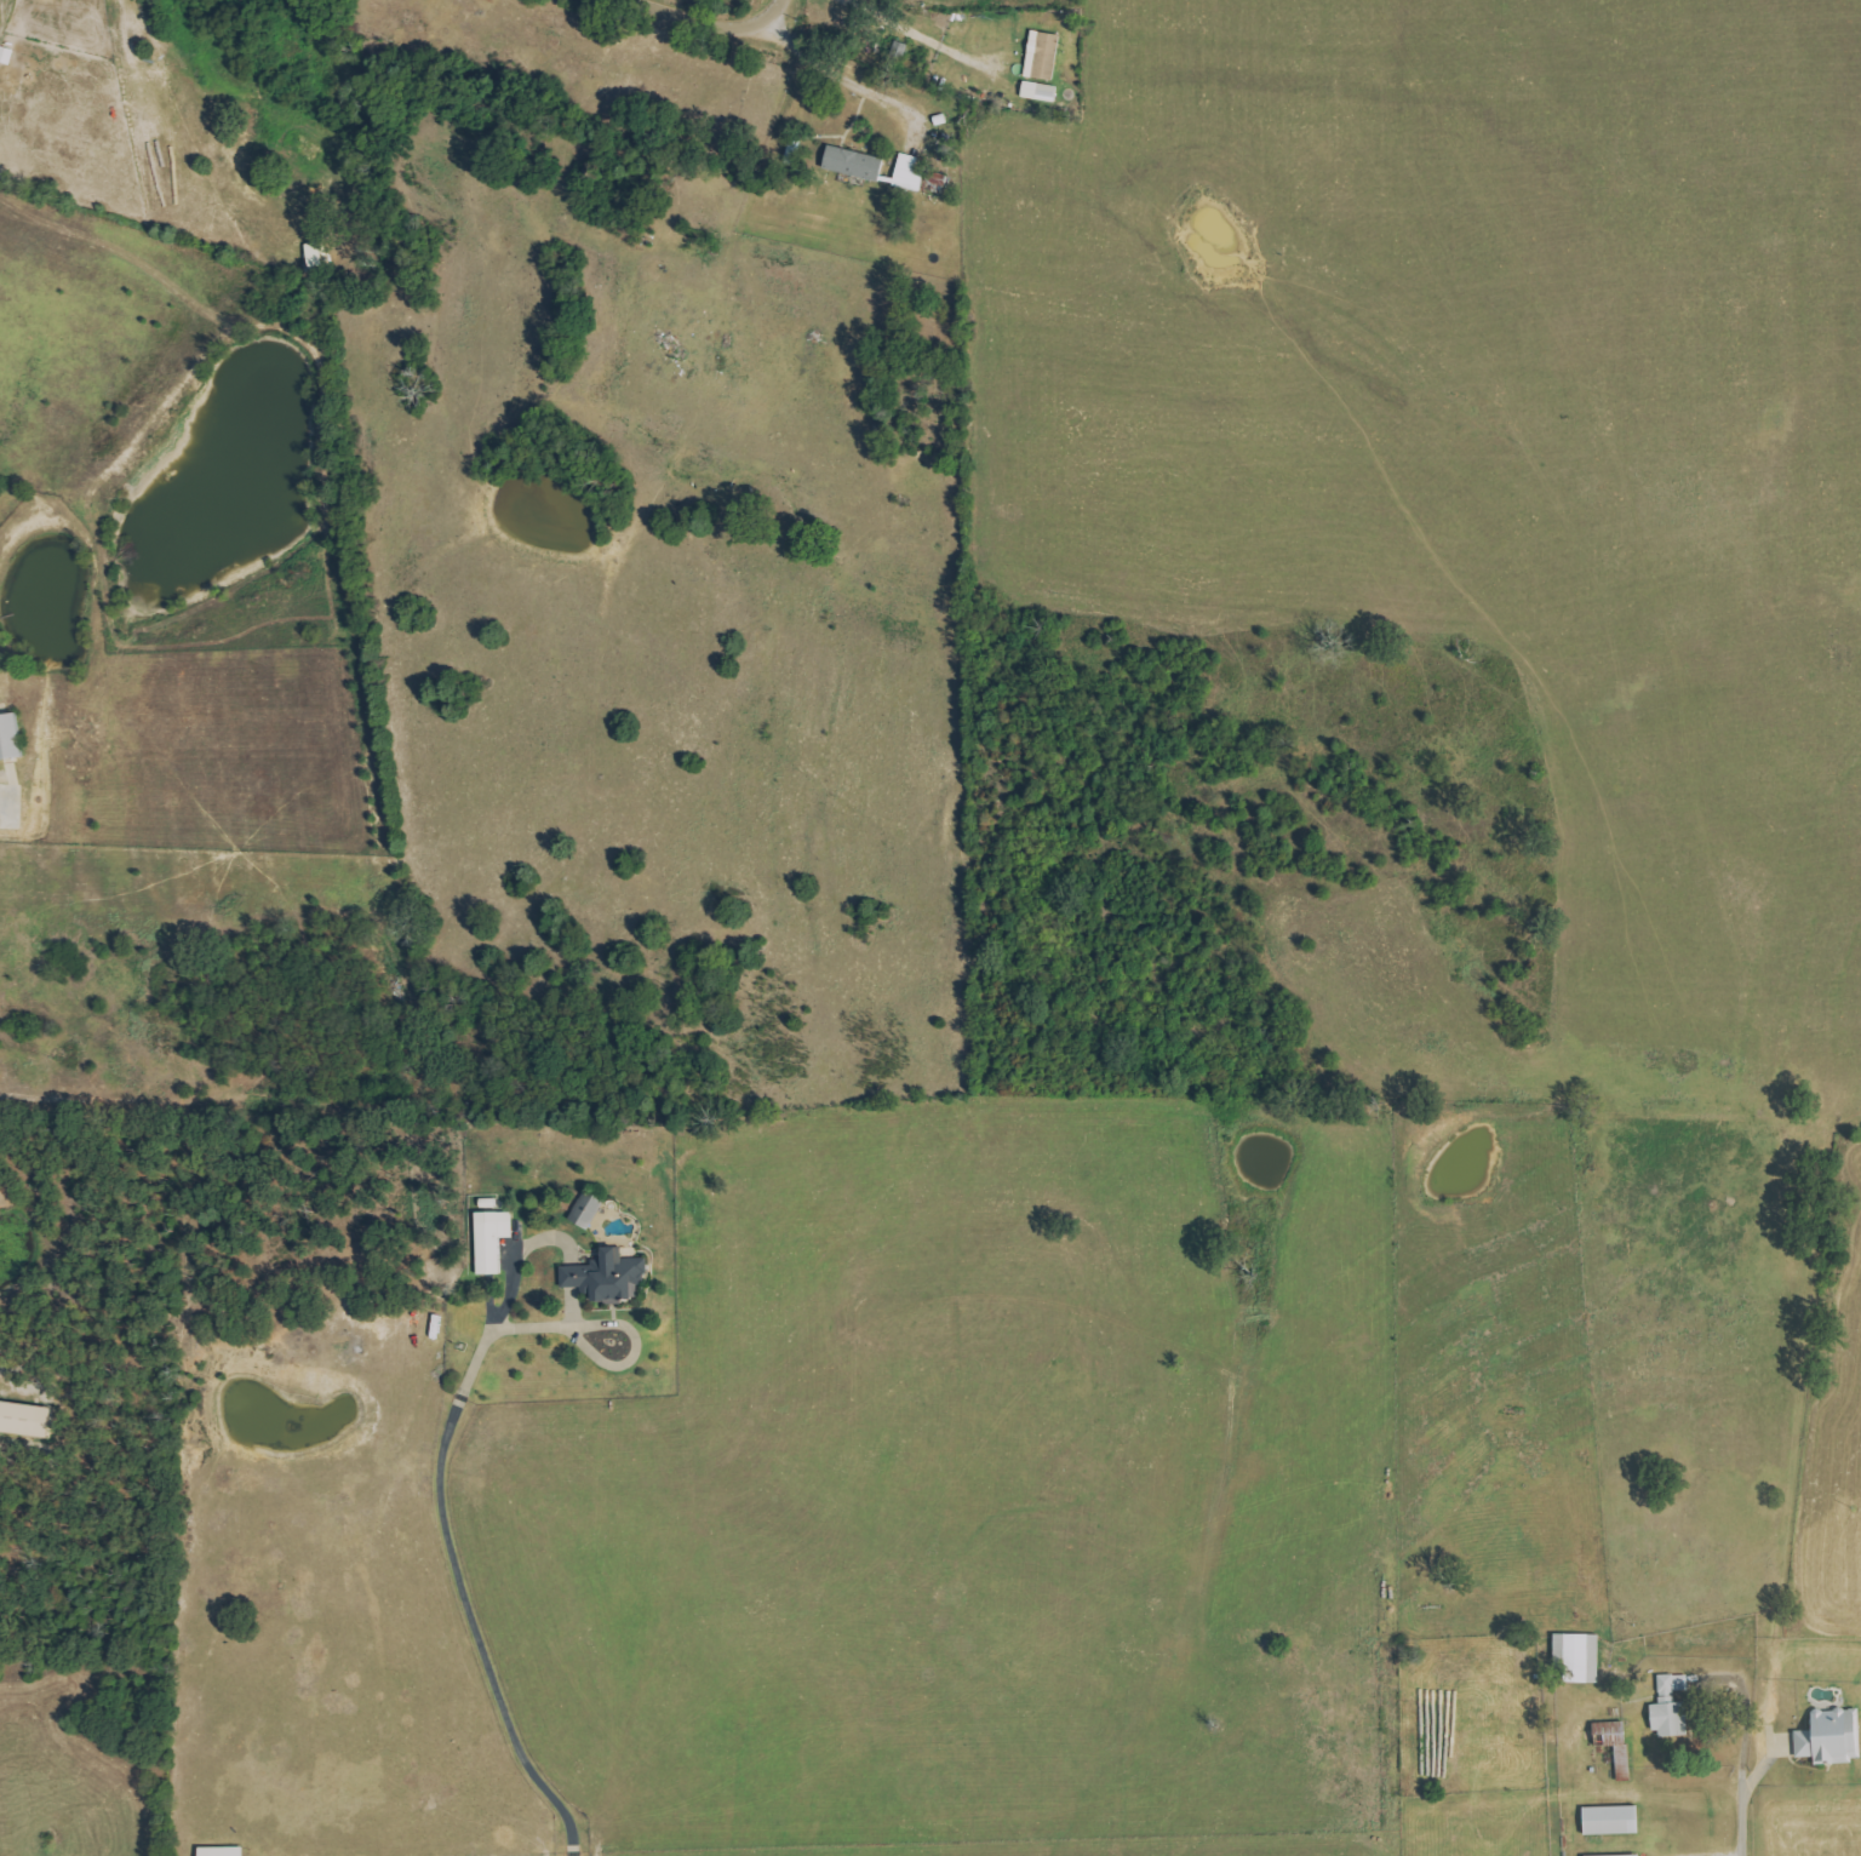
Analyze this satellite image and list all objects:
road: (698, 30)
road: (921, 35)
building: (1044, 56)
road: (846, 75)
building: (1042, 92)
building: (855, 165)
building: (910, 174)
building: (11, 737)
building: (589, 1210)
building: (494, 1239)
road: (525, 1259)
building: (25, 1420)
road: (458, 1539)
building: (1581, 1656)
building: (1673, 1707)
building: (1833, 1736)
building: (1616, 1743)
building: (1614, 1820)
road: (1745, 1822)
building: (223, 1851)
building: (1622, 1855)

